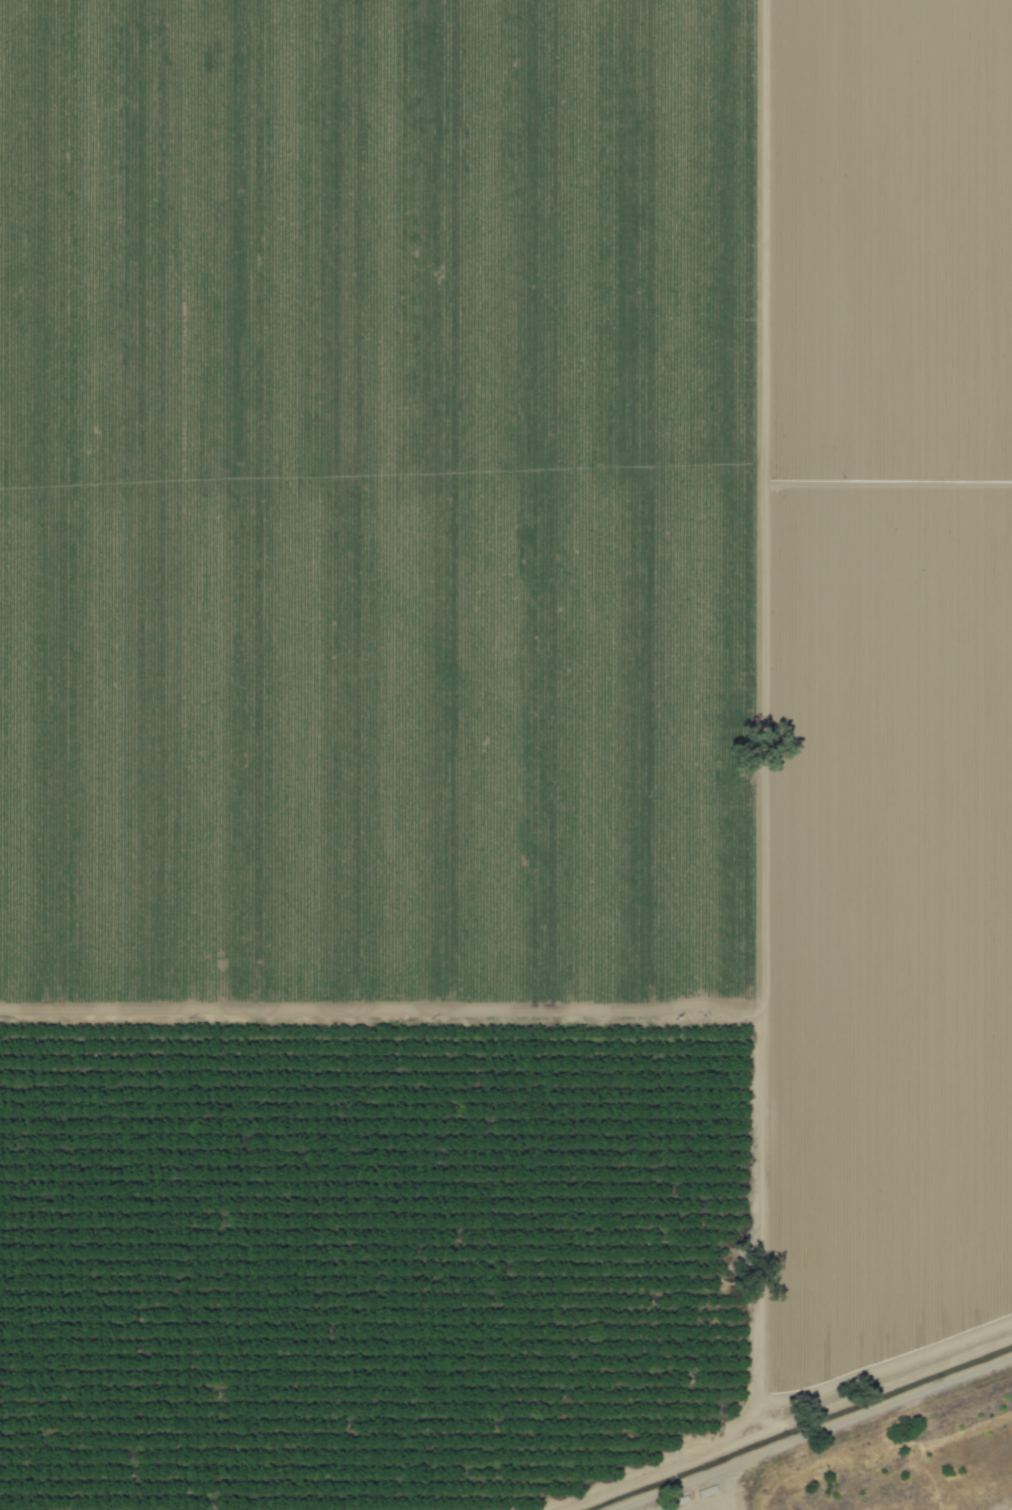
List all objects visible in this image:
road: (762, 699)
road: (883, 1372)

